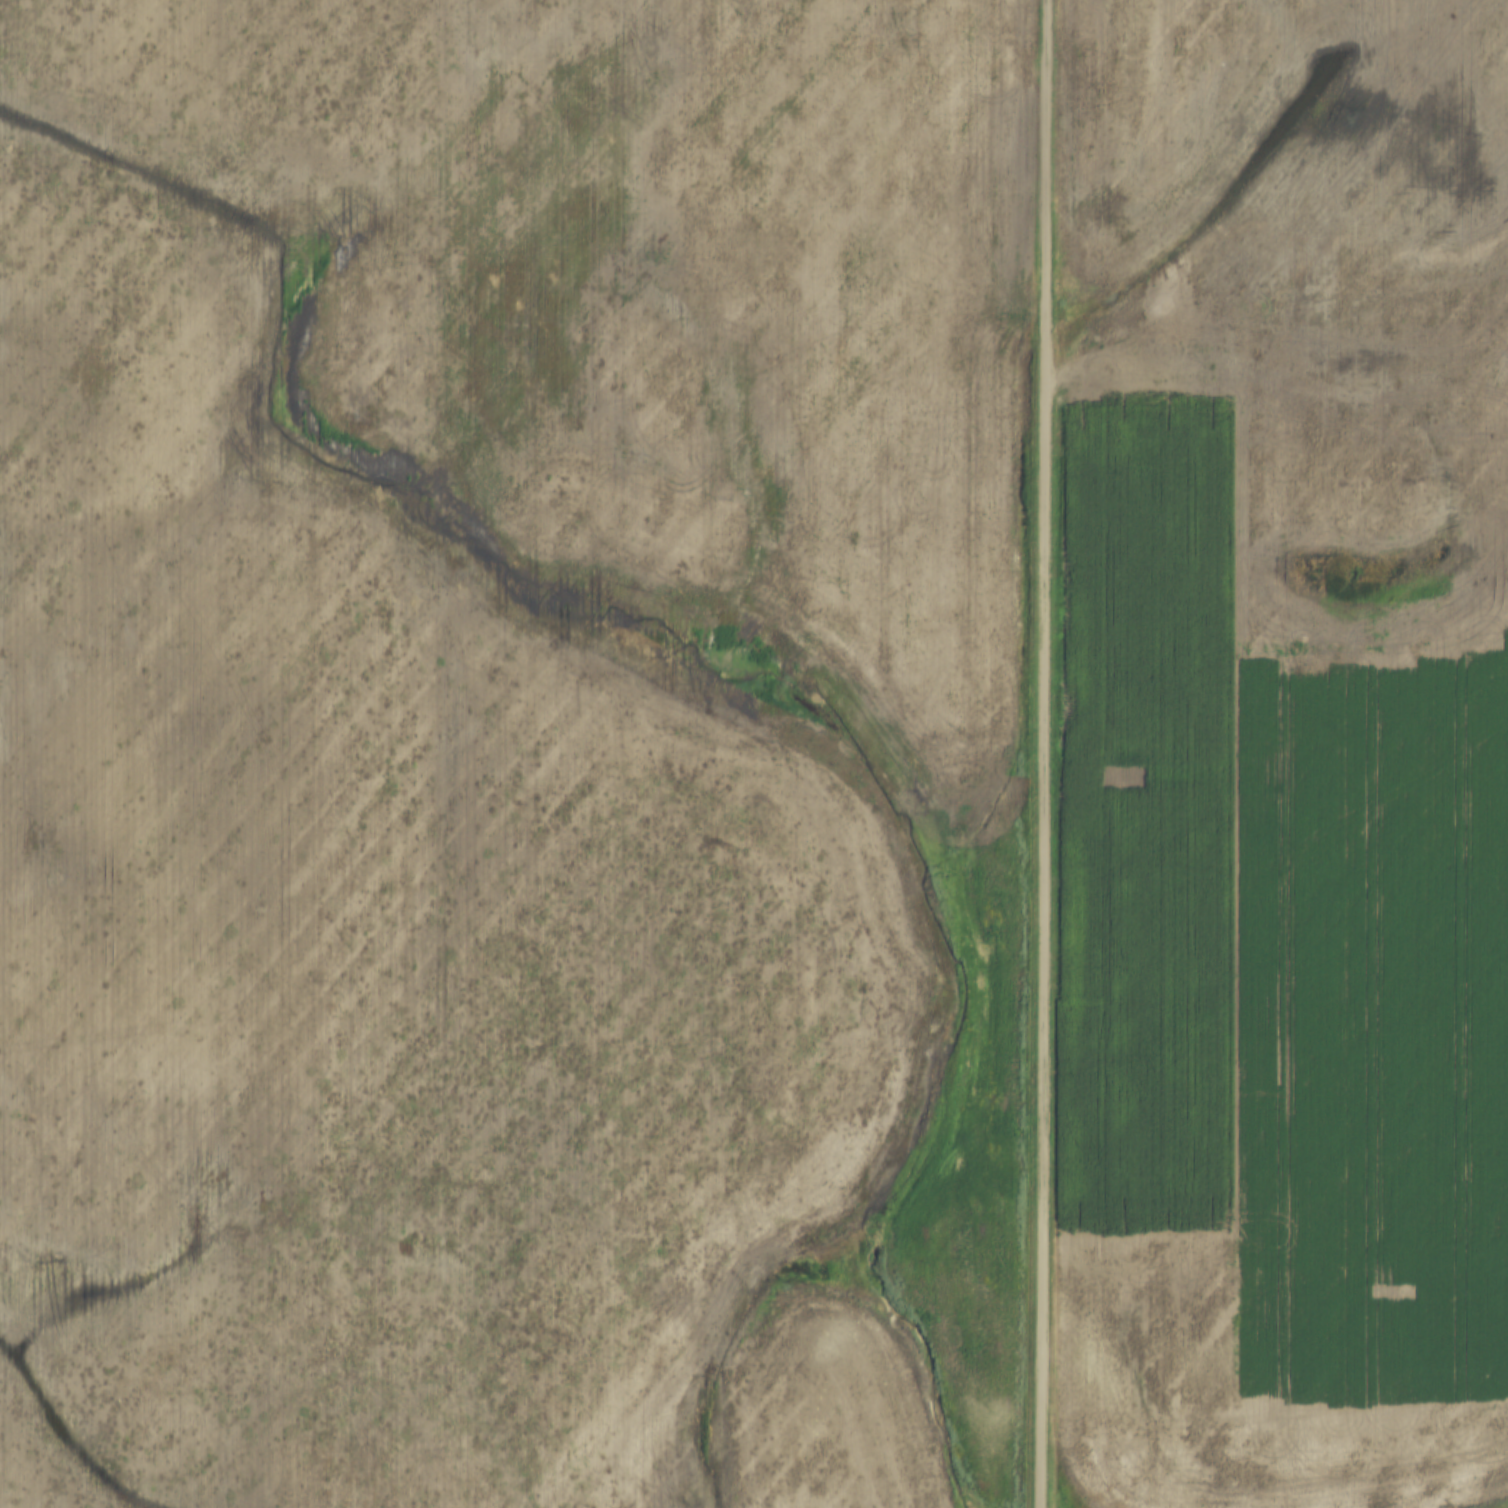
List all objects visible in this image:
road: (1046, 754)
quarry: (1503, 1506)

